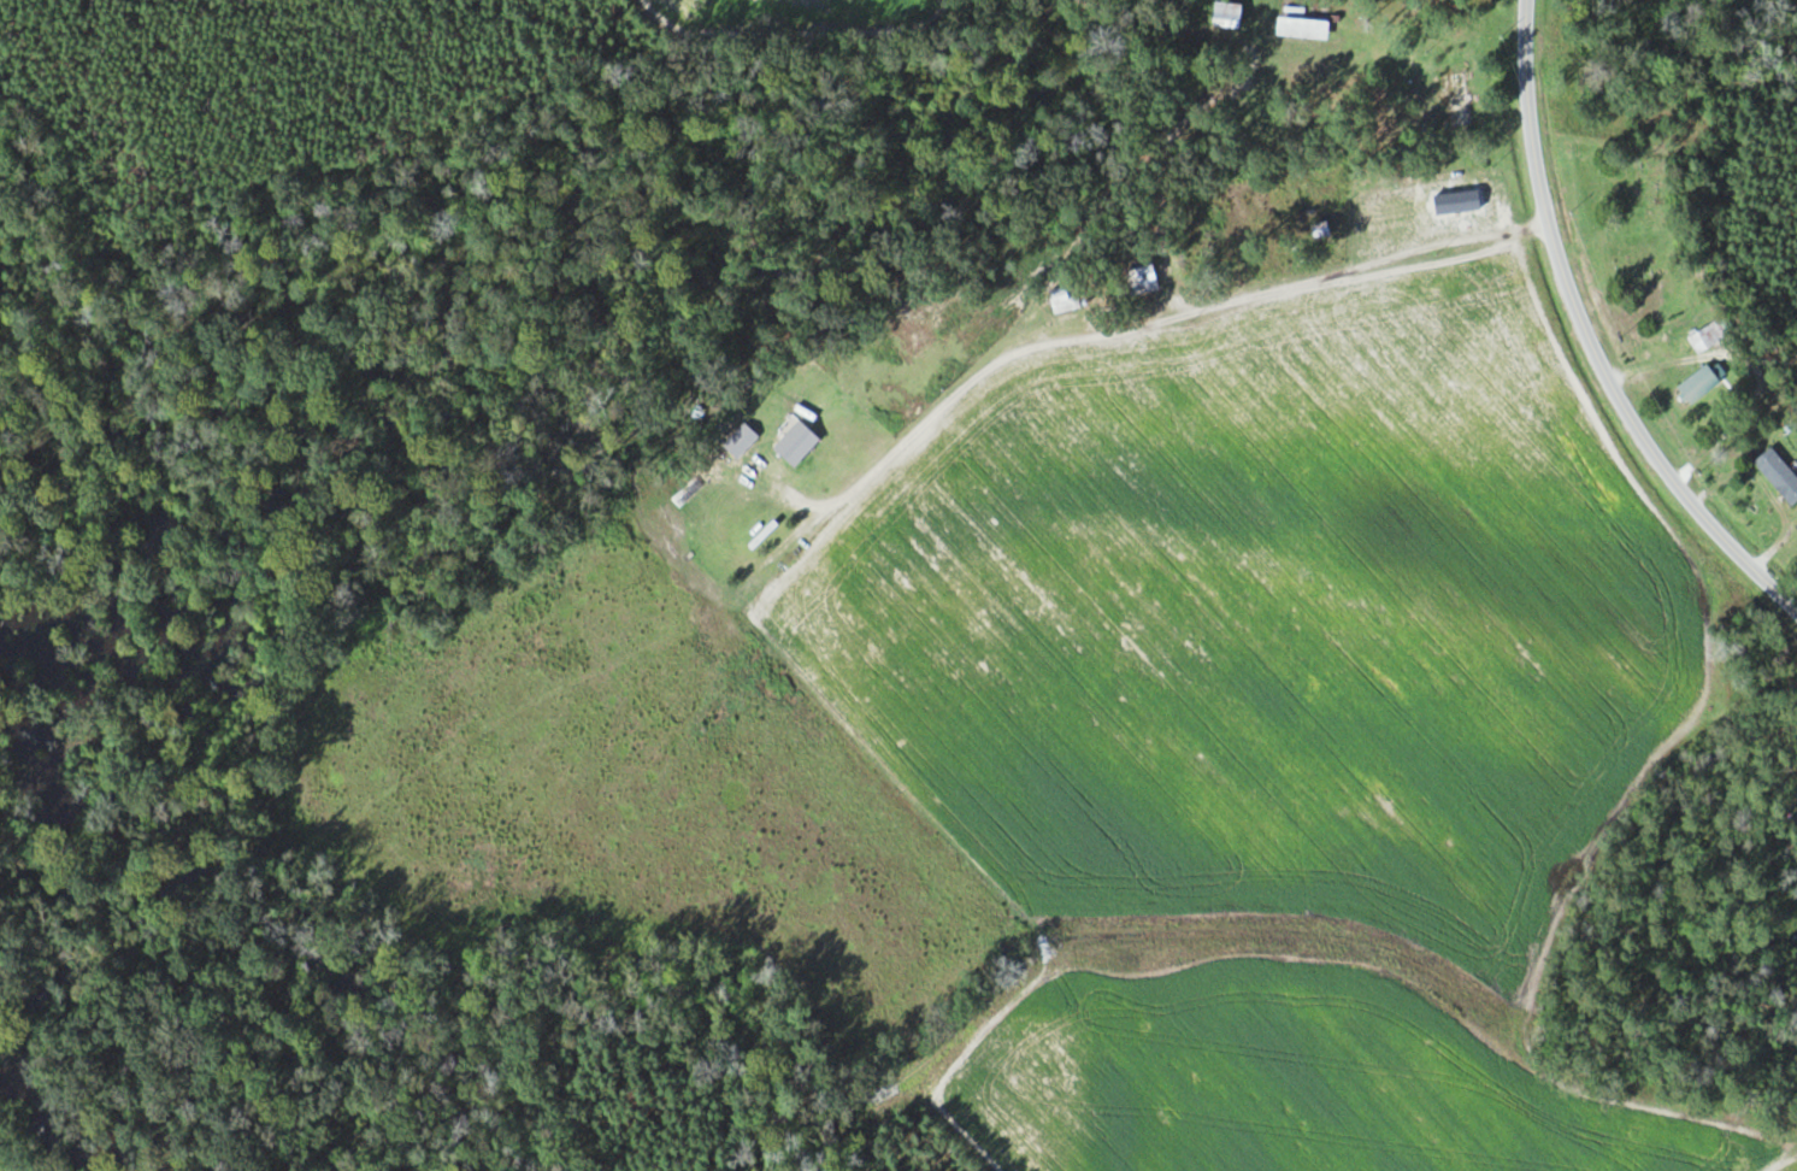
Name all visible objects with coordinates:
building: (1226, 14)
building: (1302, 28)
building: (1457, 100)
building: (1319, 230)
building: (1142, 281)
building: (1064, 299)
building: (1708, 336)
road: (1586, 339)
building: (1701, 382)
building: (741, 440)
building: (796, 443)
river: (424, 463)
building: (1785, 482)
river: (11, 1085)
river: (24, 1140)

